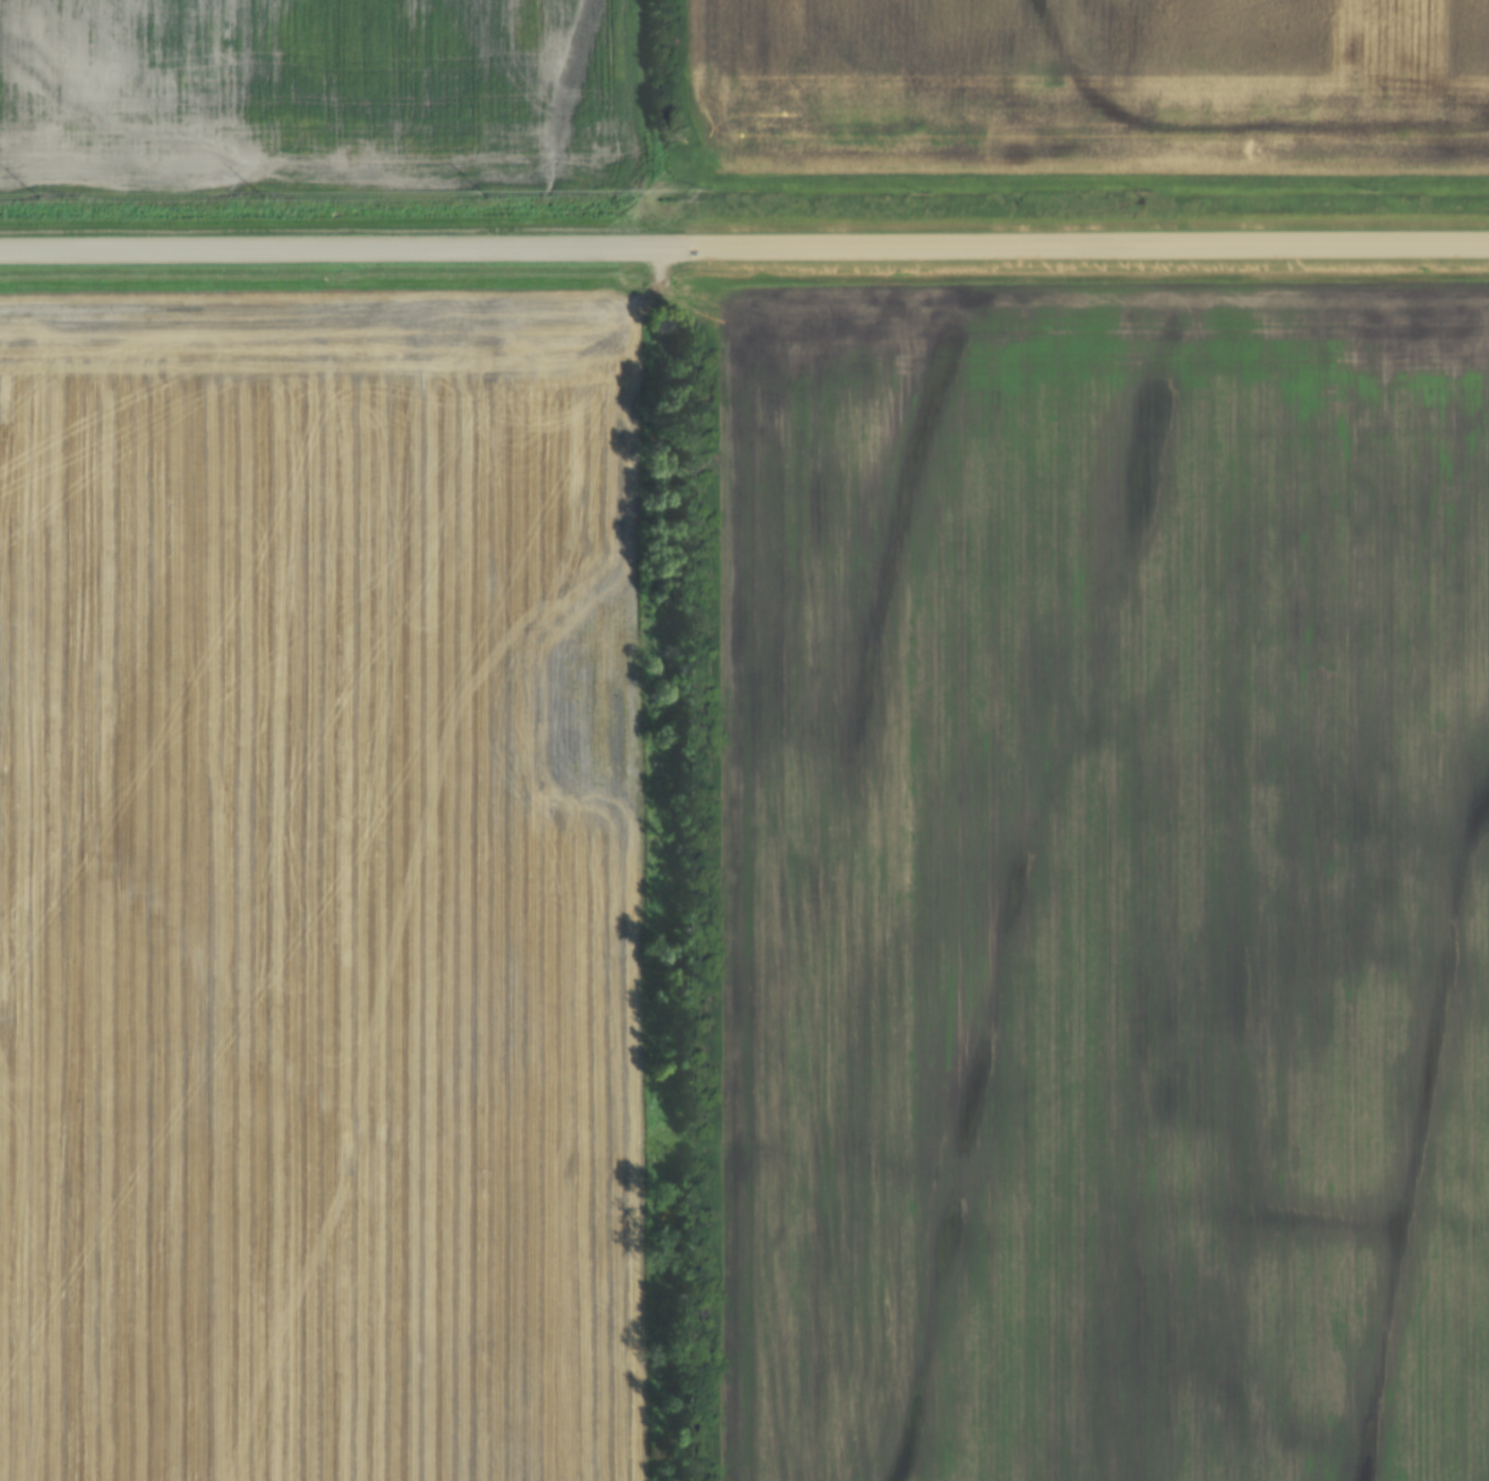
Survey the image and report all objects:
power tower: (701, 189)
road: (744, 247)

